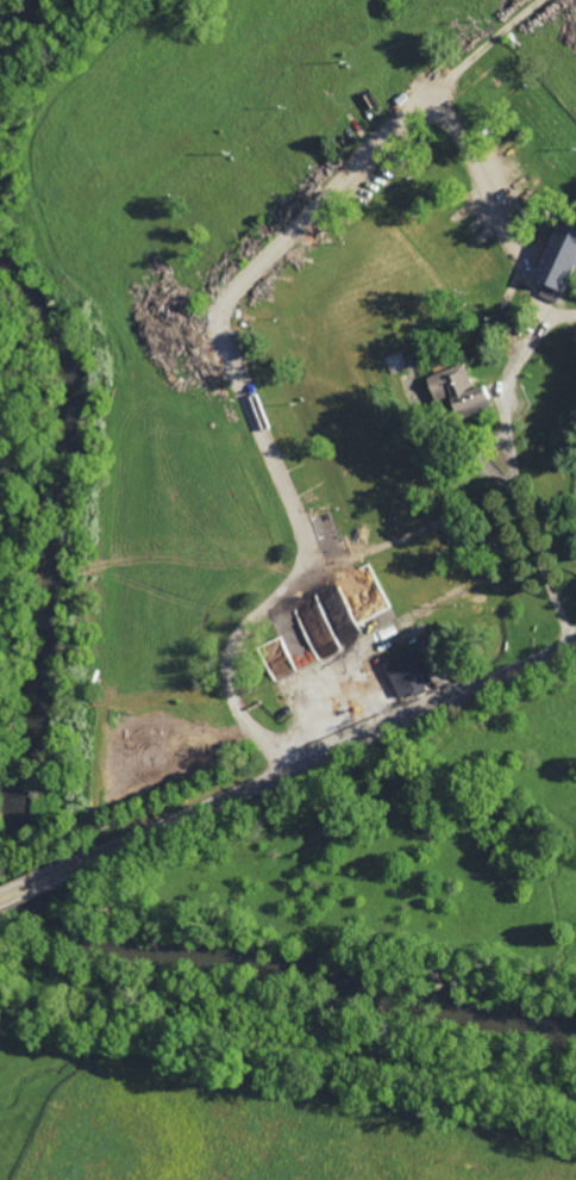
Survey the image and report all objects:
road: (477, 50)
building: (556, 259)
road: (559, 312)
road: (233, 374)
building: (457, 390)
road: (507, 416)
building: (407, 672)
road: (326, 754)
road: (38, 882)

